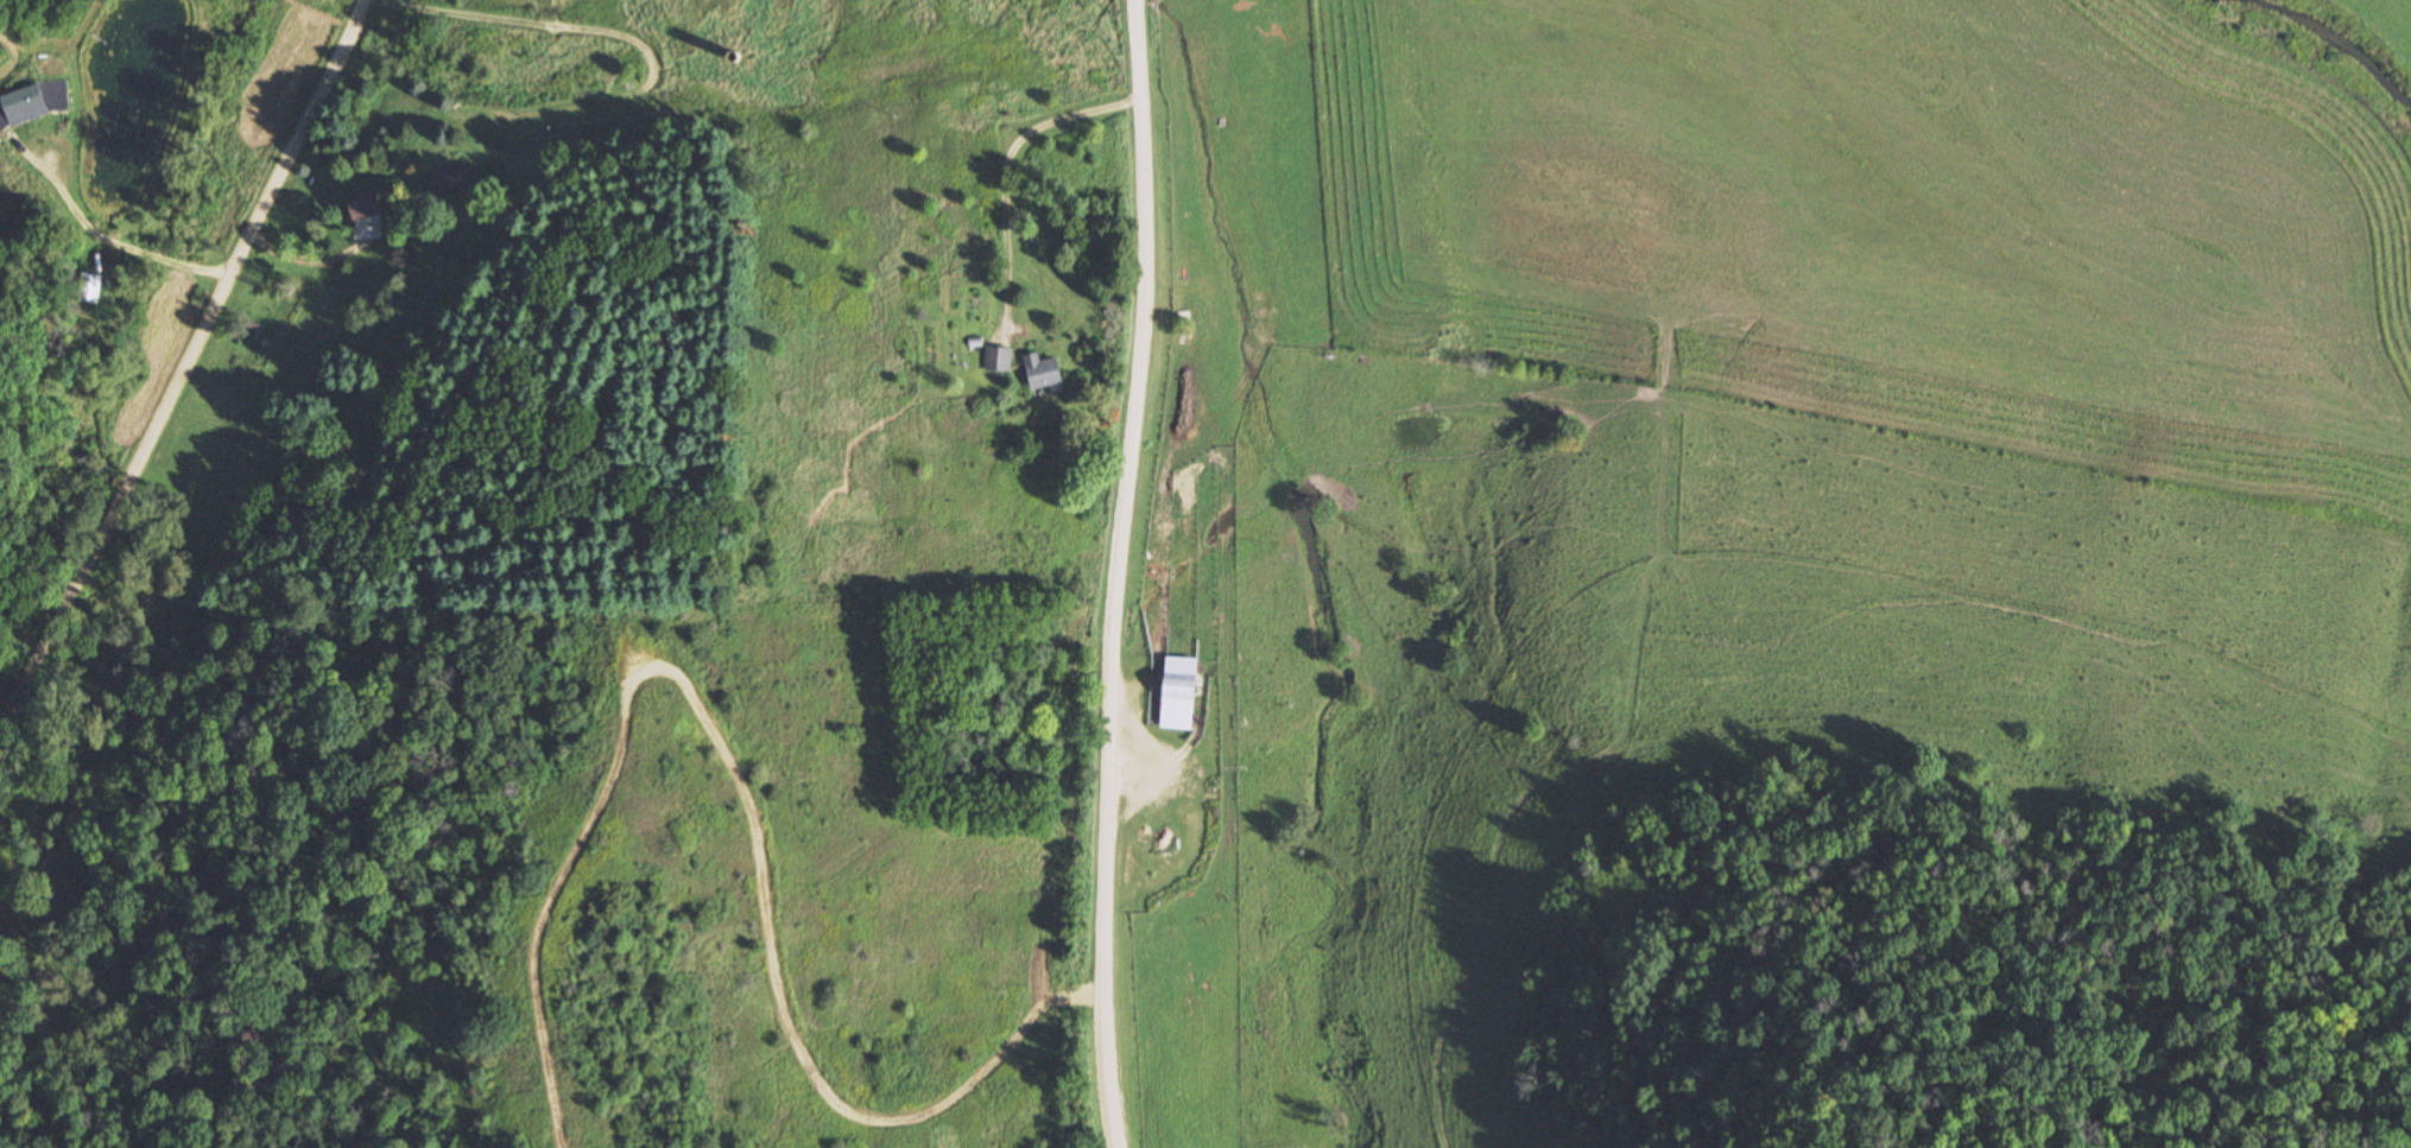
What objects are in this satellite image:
road: (1005, 44)
building: (34, 103)
building: (449, 180)
building: (367, 205)
building: (89, 287)
building: (1000, 360)
road: (189, 361)
building: (1046, 372)
road: (1118, 573)
building: (1182, 687)

